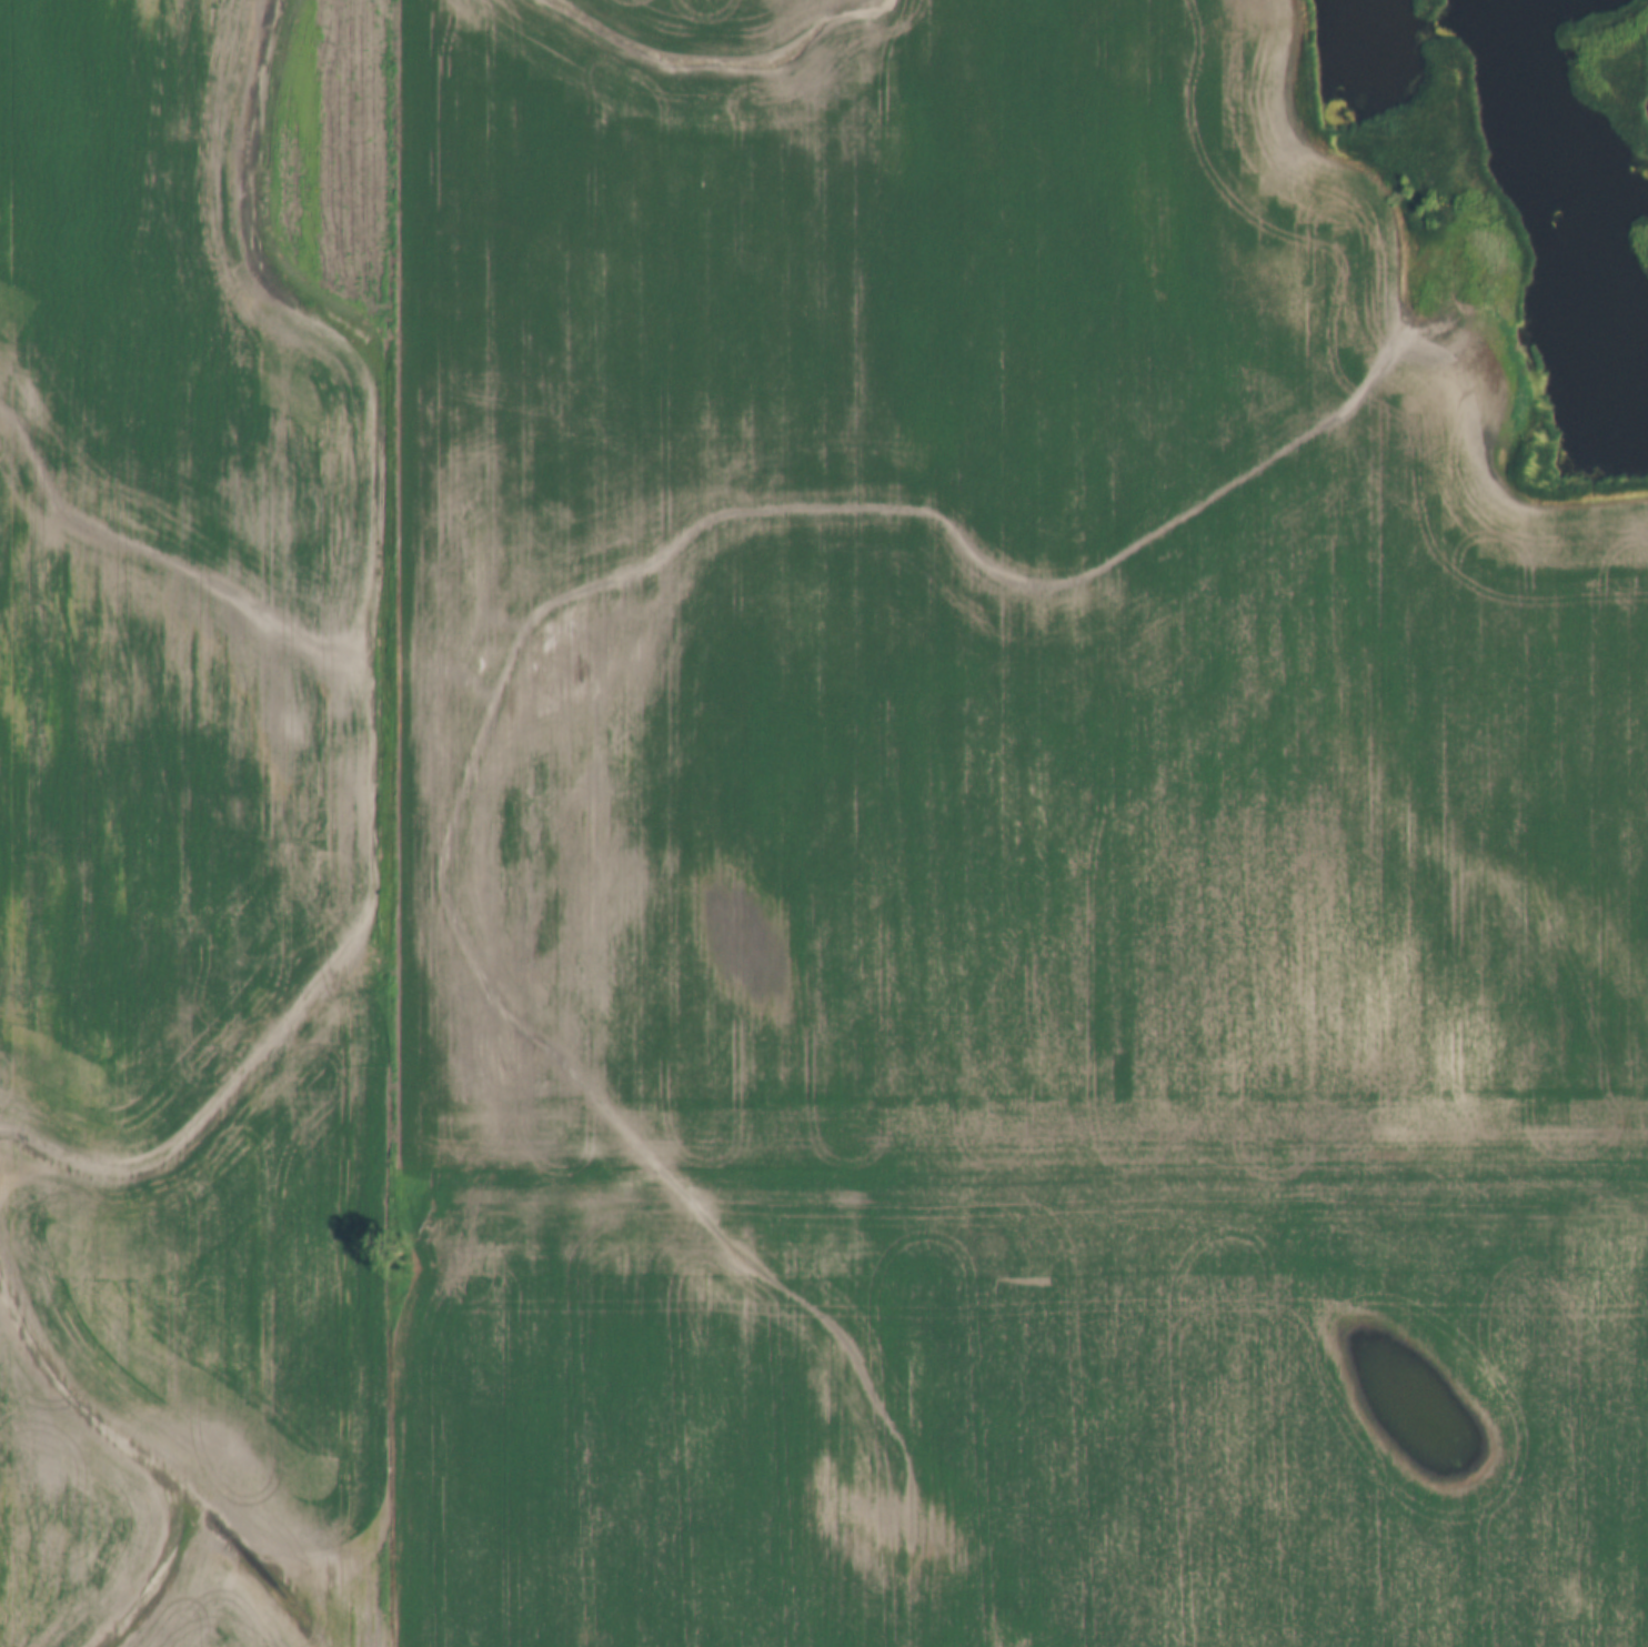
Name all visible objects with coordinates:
building: (1399, 1143)

